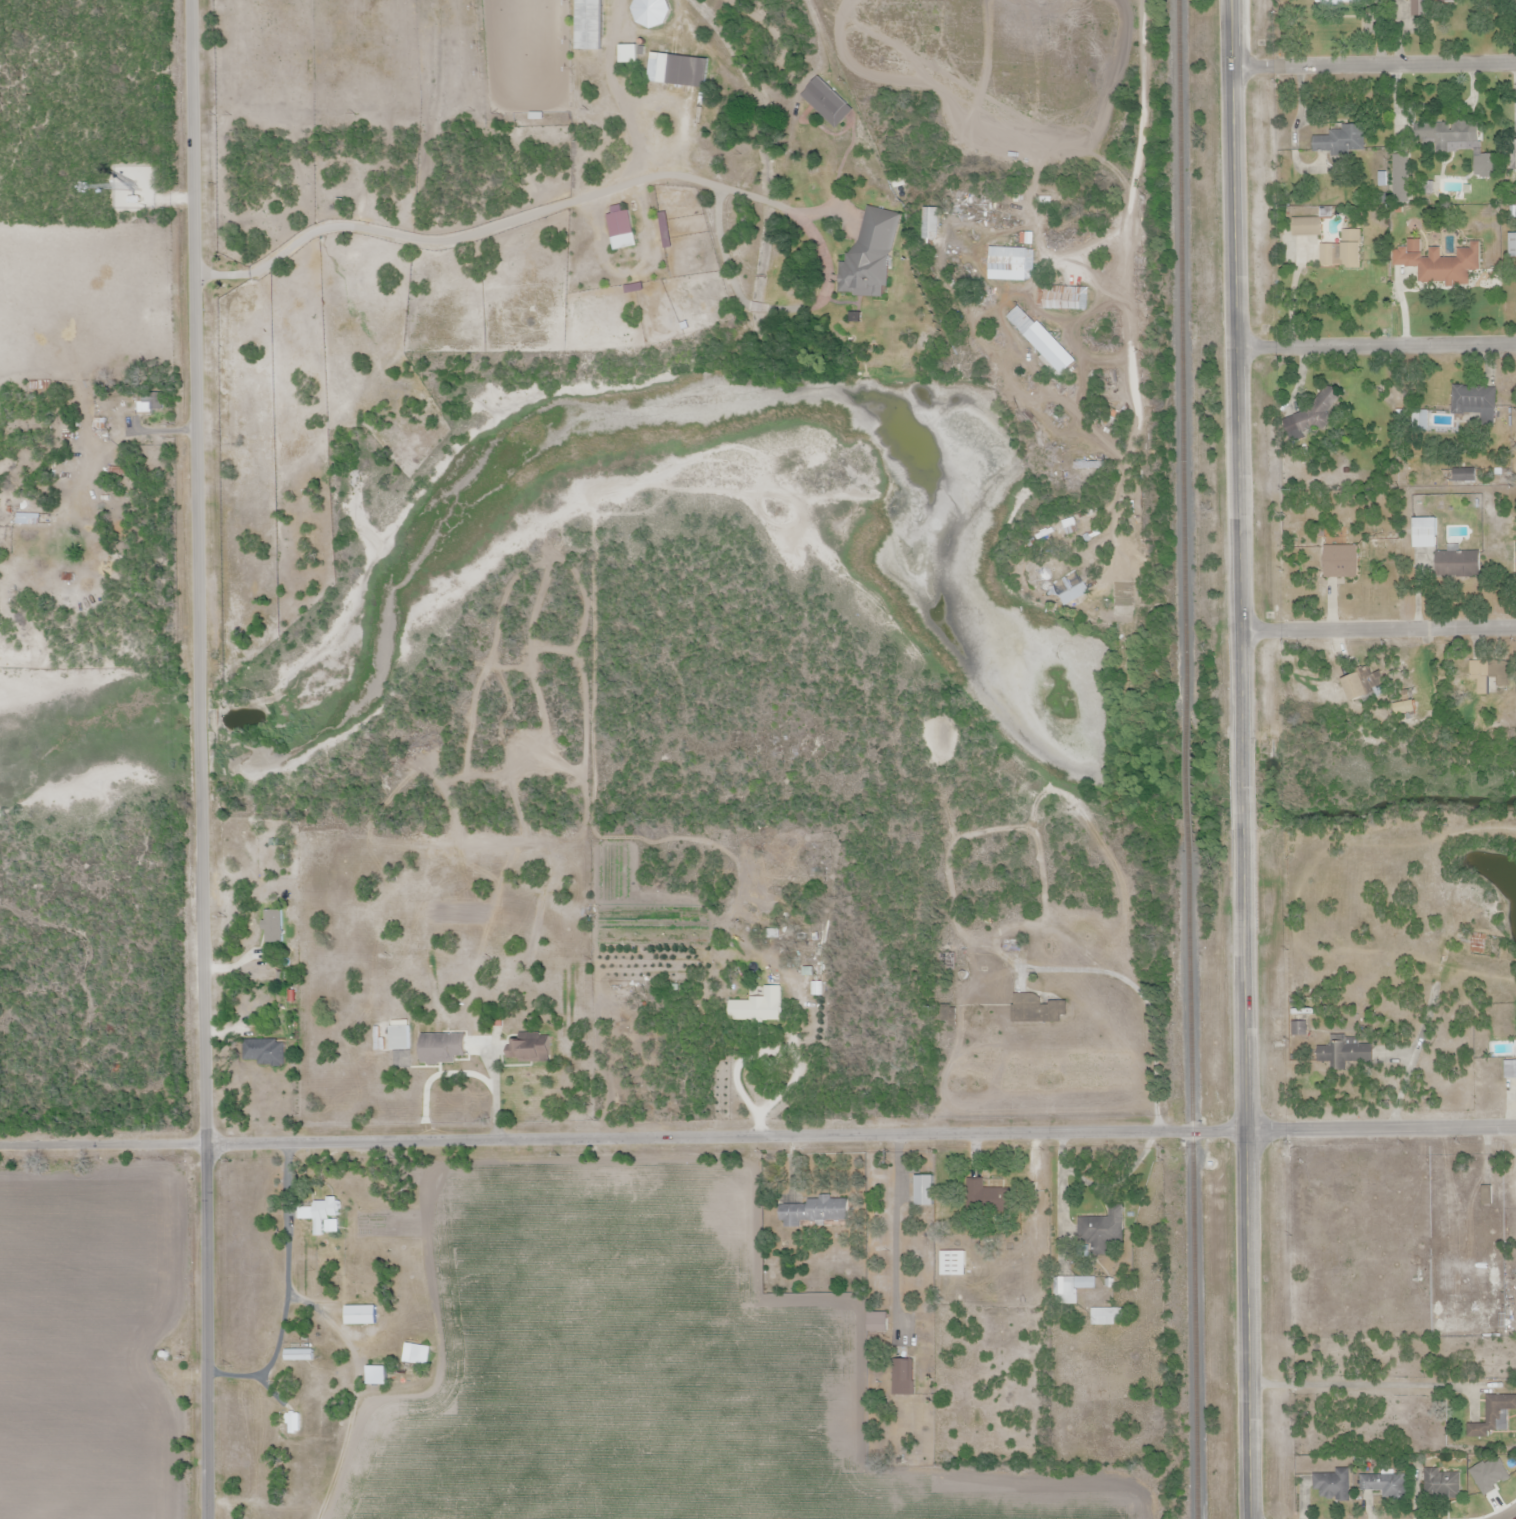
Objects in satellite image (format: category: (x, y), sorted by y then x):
building: (1515, 0)
building: (1345, 1)
building: (1419, 5)
building: (595, 25)
road: (1374, 65)
building: (678, 68)
building: (829, 98)
building: (1445, 134)
building: (1342, 141)
road: (1138, 148)
building: (1491, 167)
building: (1405, 178)
building: (1307, 228)
building: (624, 230)
building: (1512, 244)
building: (1342, 246)
building: (869, 255)
building: (1440, 259)
building: (1011, 262)
building: (1059, 295)
building: (1024, 320)
road: (1377, 346)
road: (196, 356)
railway: (1183, 357)
road: (1238, 369)
building: (1472, 401)
building: (148, 402)
building: (1314, 416)
building: (1091, 464)
building: (1425, 533)
building: (1342, 560)
building: (1456, 563)
building: (1074, 593)
road: (1379, 629)
building: (1489, 674)
building: (1359, 685)
road: (200, 729)
railway: (1188, 782)
road: (1243, 784)
building: (1479, 943)
building: (758, 1006)
building: (1037, 1009)
building: (400, 1034)
building: (533, 1047)
road: (764, 1050)
building: (264, 1051)
building: (1350, 1054)
building: (1509, 1070)
road: (1382, 1128)
road: (202, 1131)
road: (624, 1139)
road: (1248, 1173)
railway: (1194, 1184)
building: (924, 1190)
building: (983, 1193)
building: (321, 1210)
building: (814, 1211)
building: (1100, 1230)
building: (952, 1263)
building: (1072, 1288)
building: (361, 1315)
building: (877, 1322)
building: (299, 1354)
building: (377, 1375)
building: (907, 1376)
building: (1491, 1416)
building: (1489, 1477)
building: (1441, 1483)
building: (1382, 1485)
building: (1331, 1487)
road: (1513, 1517)

